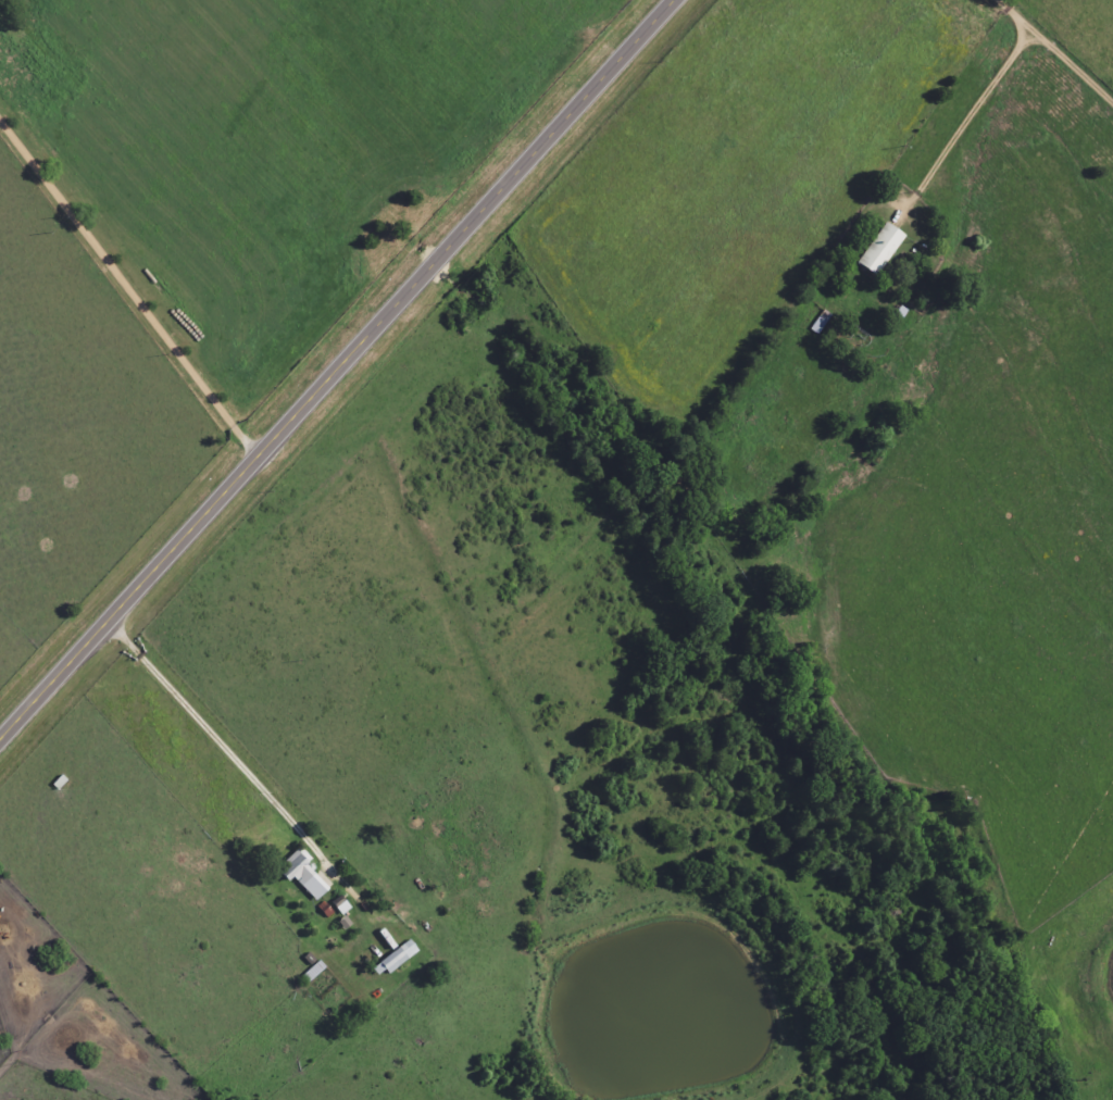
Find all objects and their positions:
road: (1054, 50)
road: (963, 121)
building: (881, 249)
road: (121, 278)
road: (336, 370)
road: (208, 764)
building: (304, 875)
building: (396, 959)

